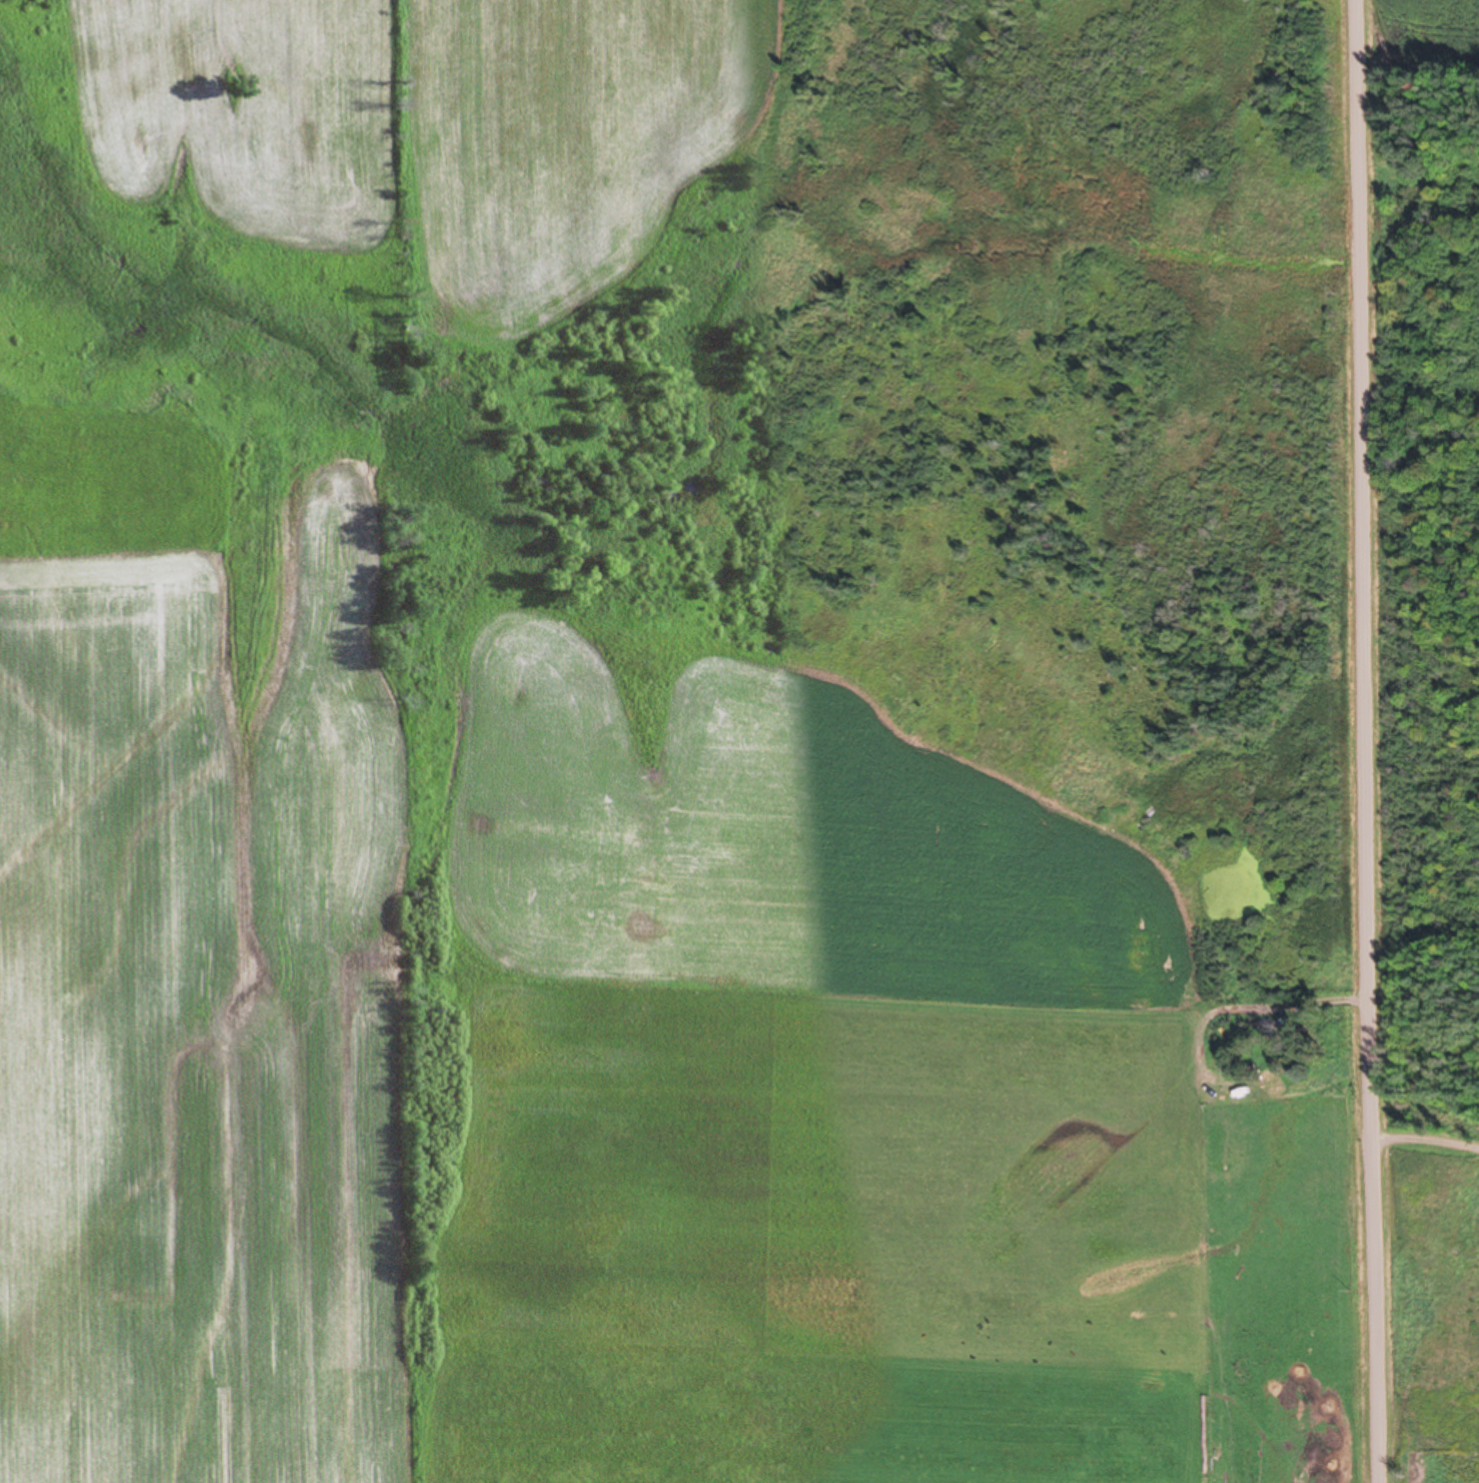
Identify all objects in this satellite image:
road: (1375, 741)

